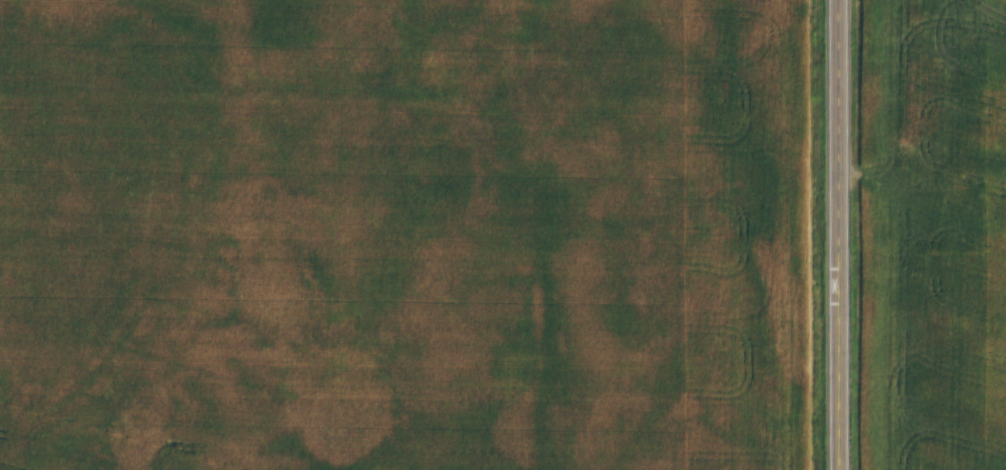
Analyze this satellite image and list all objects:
road: (838, 235)

